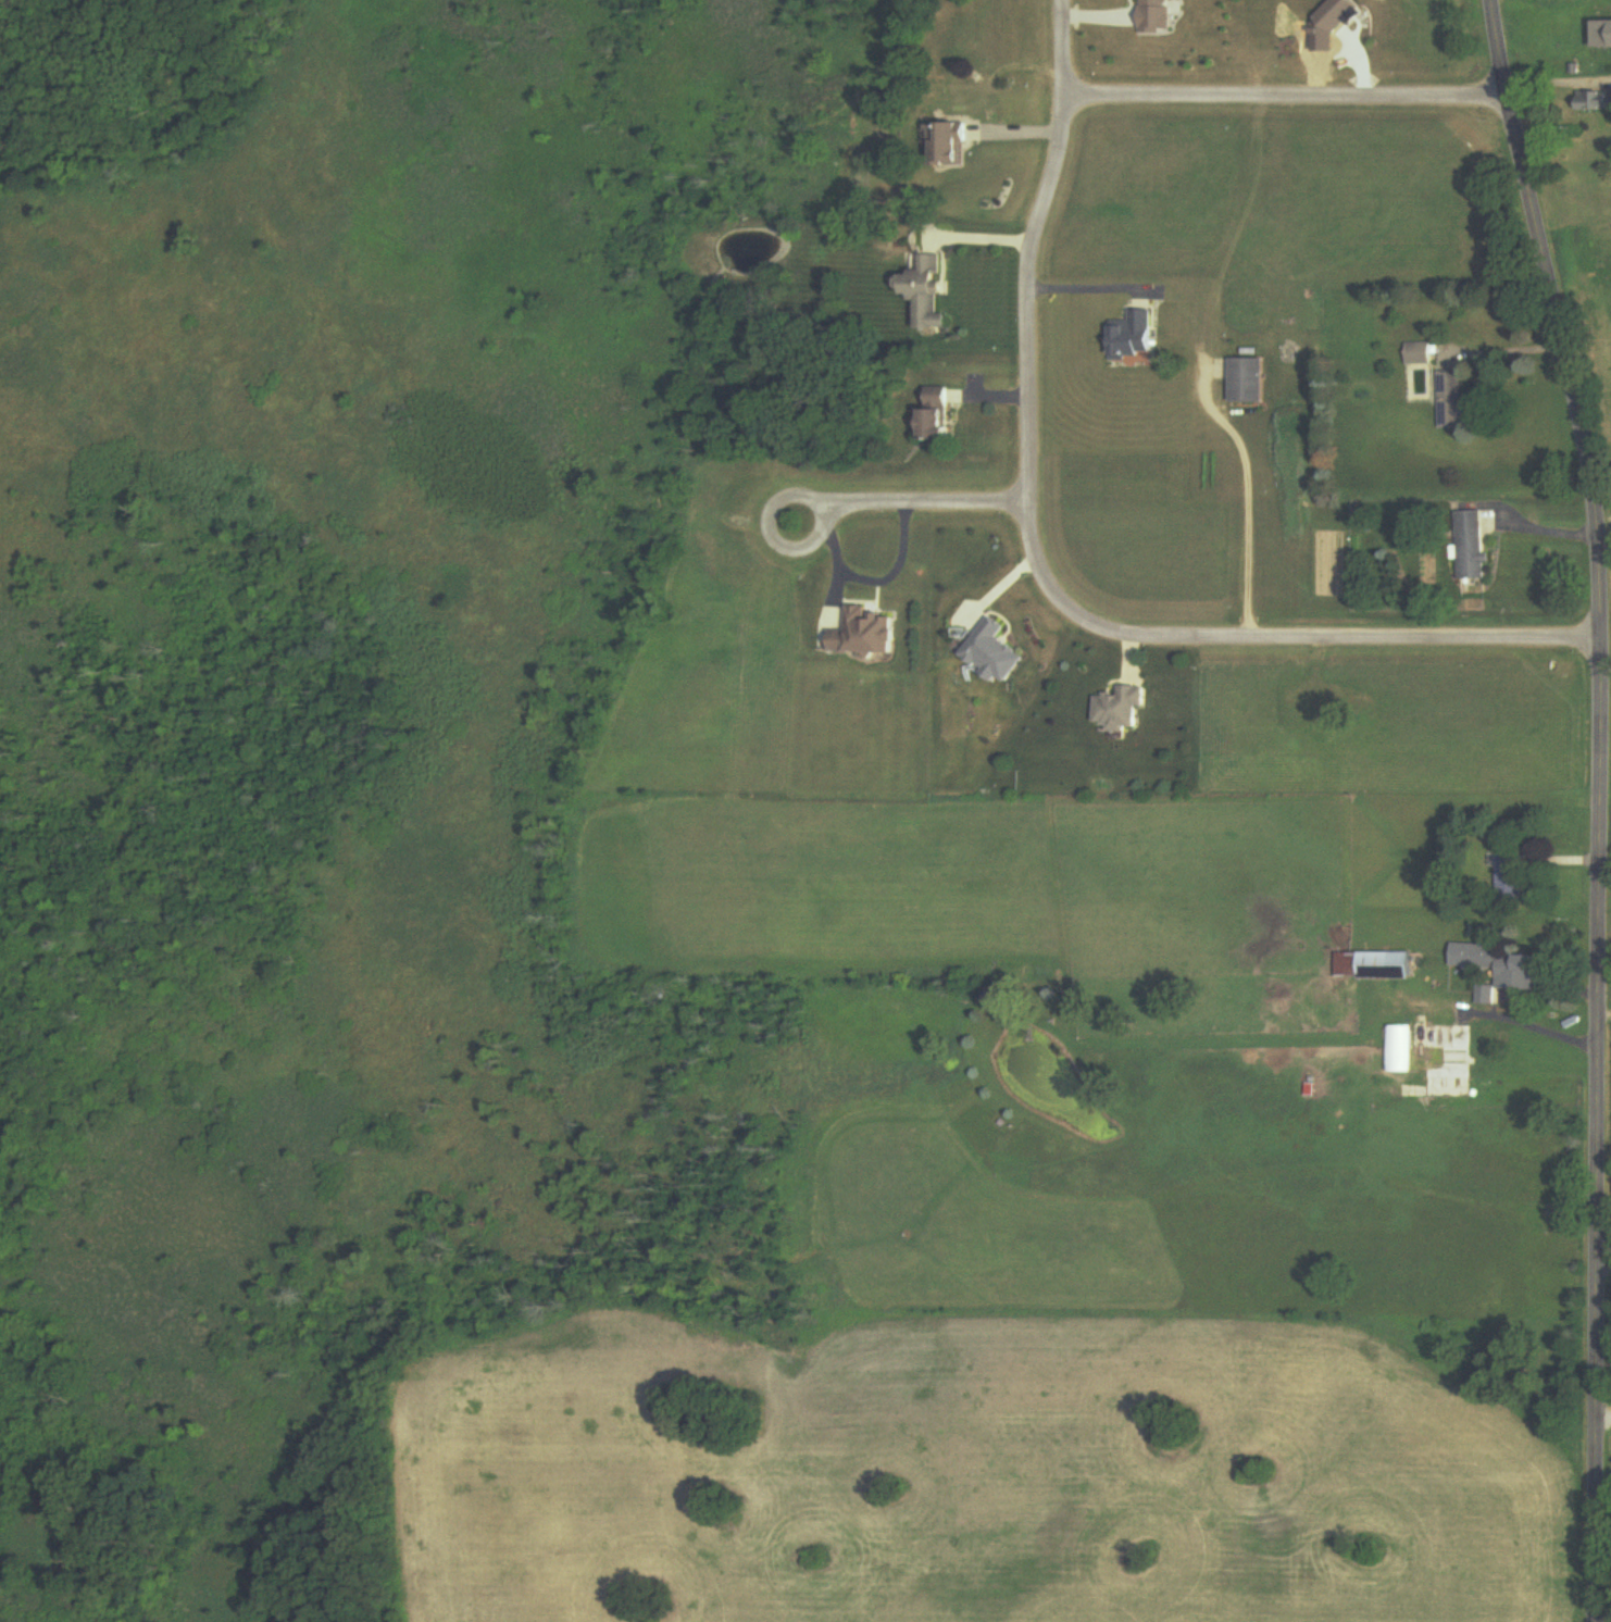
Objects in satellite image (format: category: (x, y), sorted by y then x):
building: (1597, 34)
road: (1558, 84)
road: (1283, 96)
building: (1594, 101)
building: (949, 144)
road: (972, 225)
building: (927, 291)
building: (1133, 337)
road: (1500, 338)
building: (1418, 353)
building: (1248, 380)
building: (1451, 400)
building: (936, 413)
road: (1247, 492)
road: (883, 500)
road: (1537, 517)
building: (1468, 545)
road: (1036, 575)
building: (861, 634)
building: (1120, 709)
road: (1597, 806)
building: (1508, 877)
building: (1374, 965)
building: (1500, 969)
road: (1531, 1014)
building: (1397, 1049)
building: (1451, 1052)

